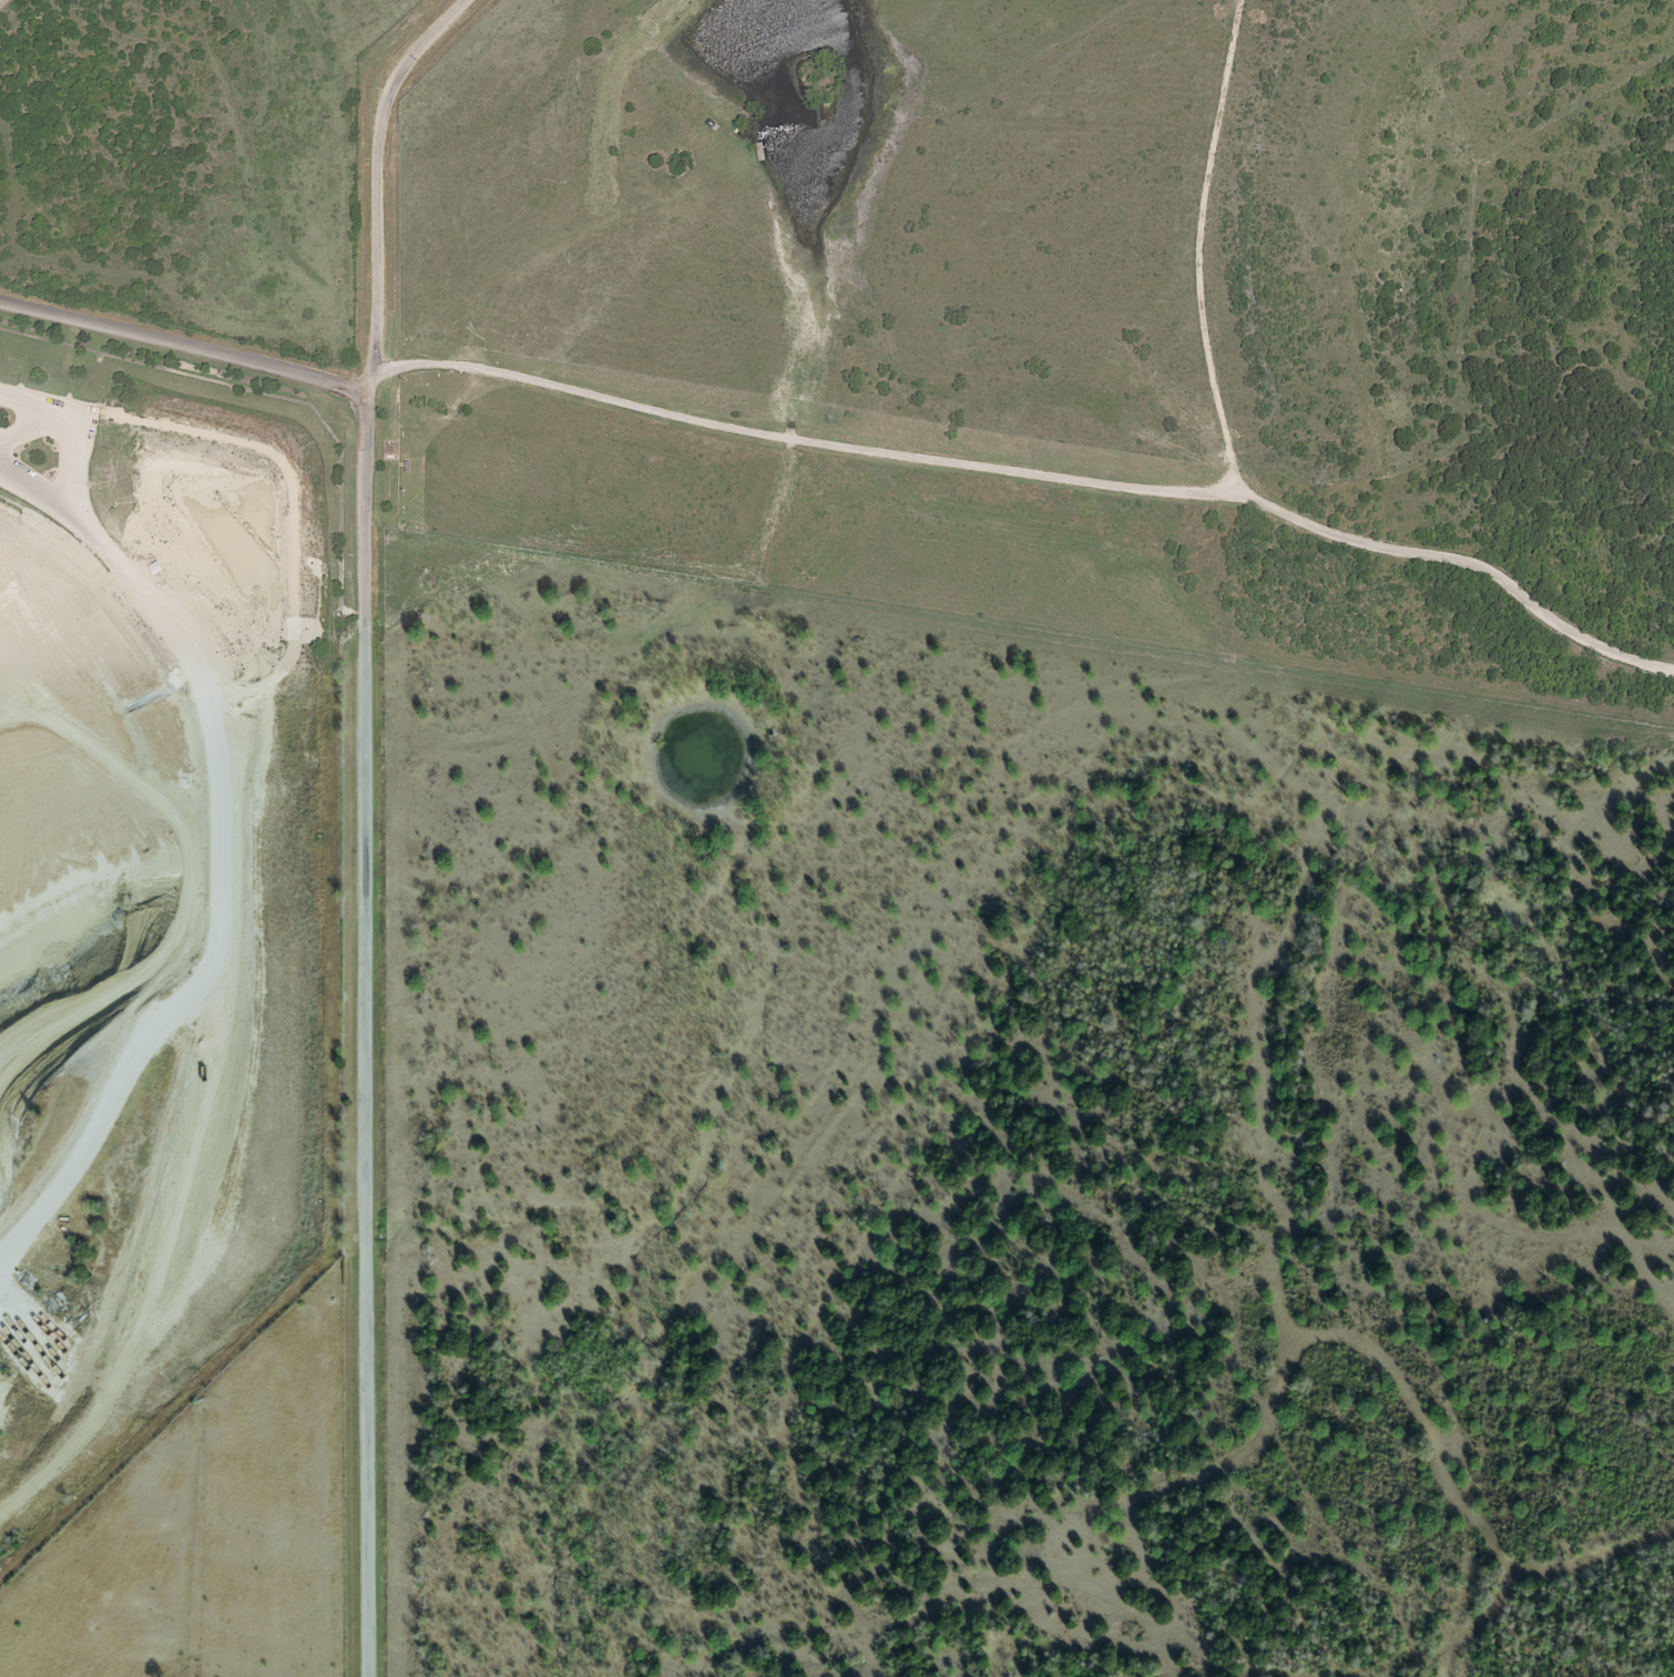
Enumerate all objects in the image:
road: (183, 347)
road: (62, 437)
road: (1034, 473)
road: (366, 825)
road: (218, 857)
landfill: (156, 898)
road: (154, 1244)
road: (63, 1451)

